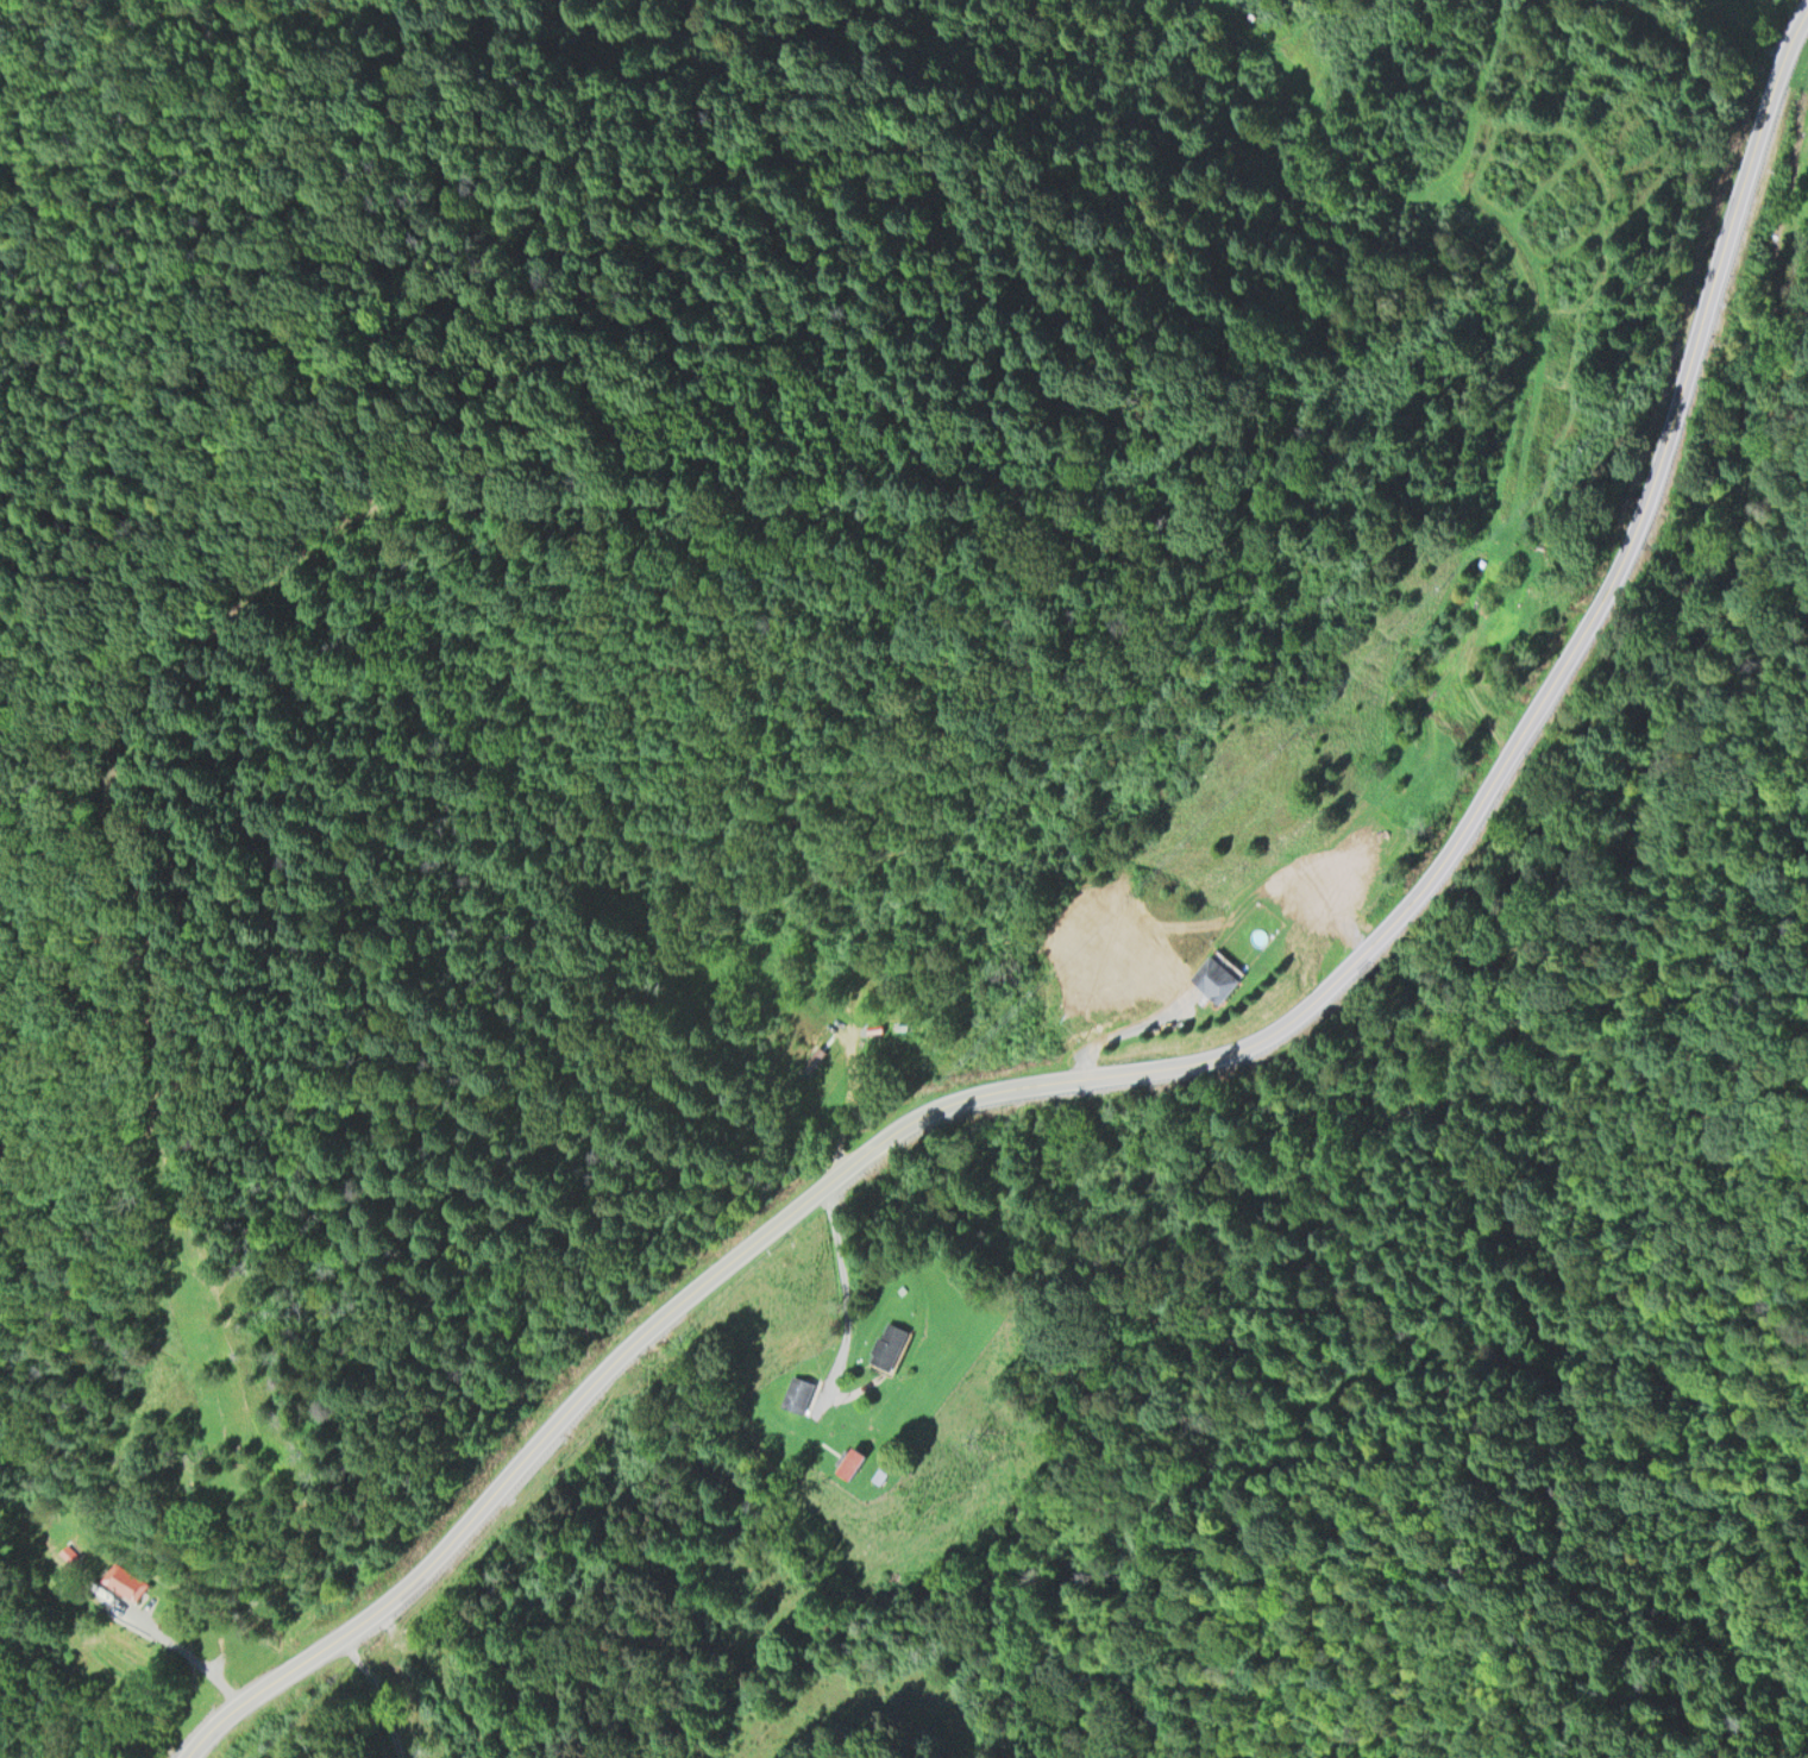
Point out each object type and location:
crop: (1506, 195)
road: (289, 570)
building: (1490, 576)
road: (1461, 692)
building: (1396, 798)
building: (1213, 978)
road: (1124, 1029)
road: (1195, 1063)
road: (849, 1305)
building: (891, 1346)
building: (796, 1393)
building: (849, 1461)
building: (879, 1475)
building: (125, 1580)
road: (379, 1694)

